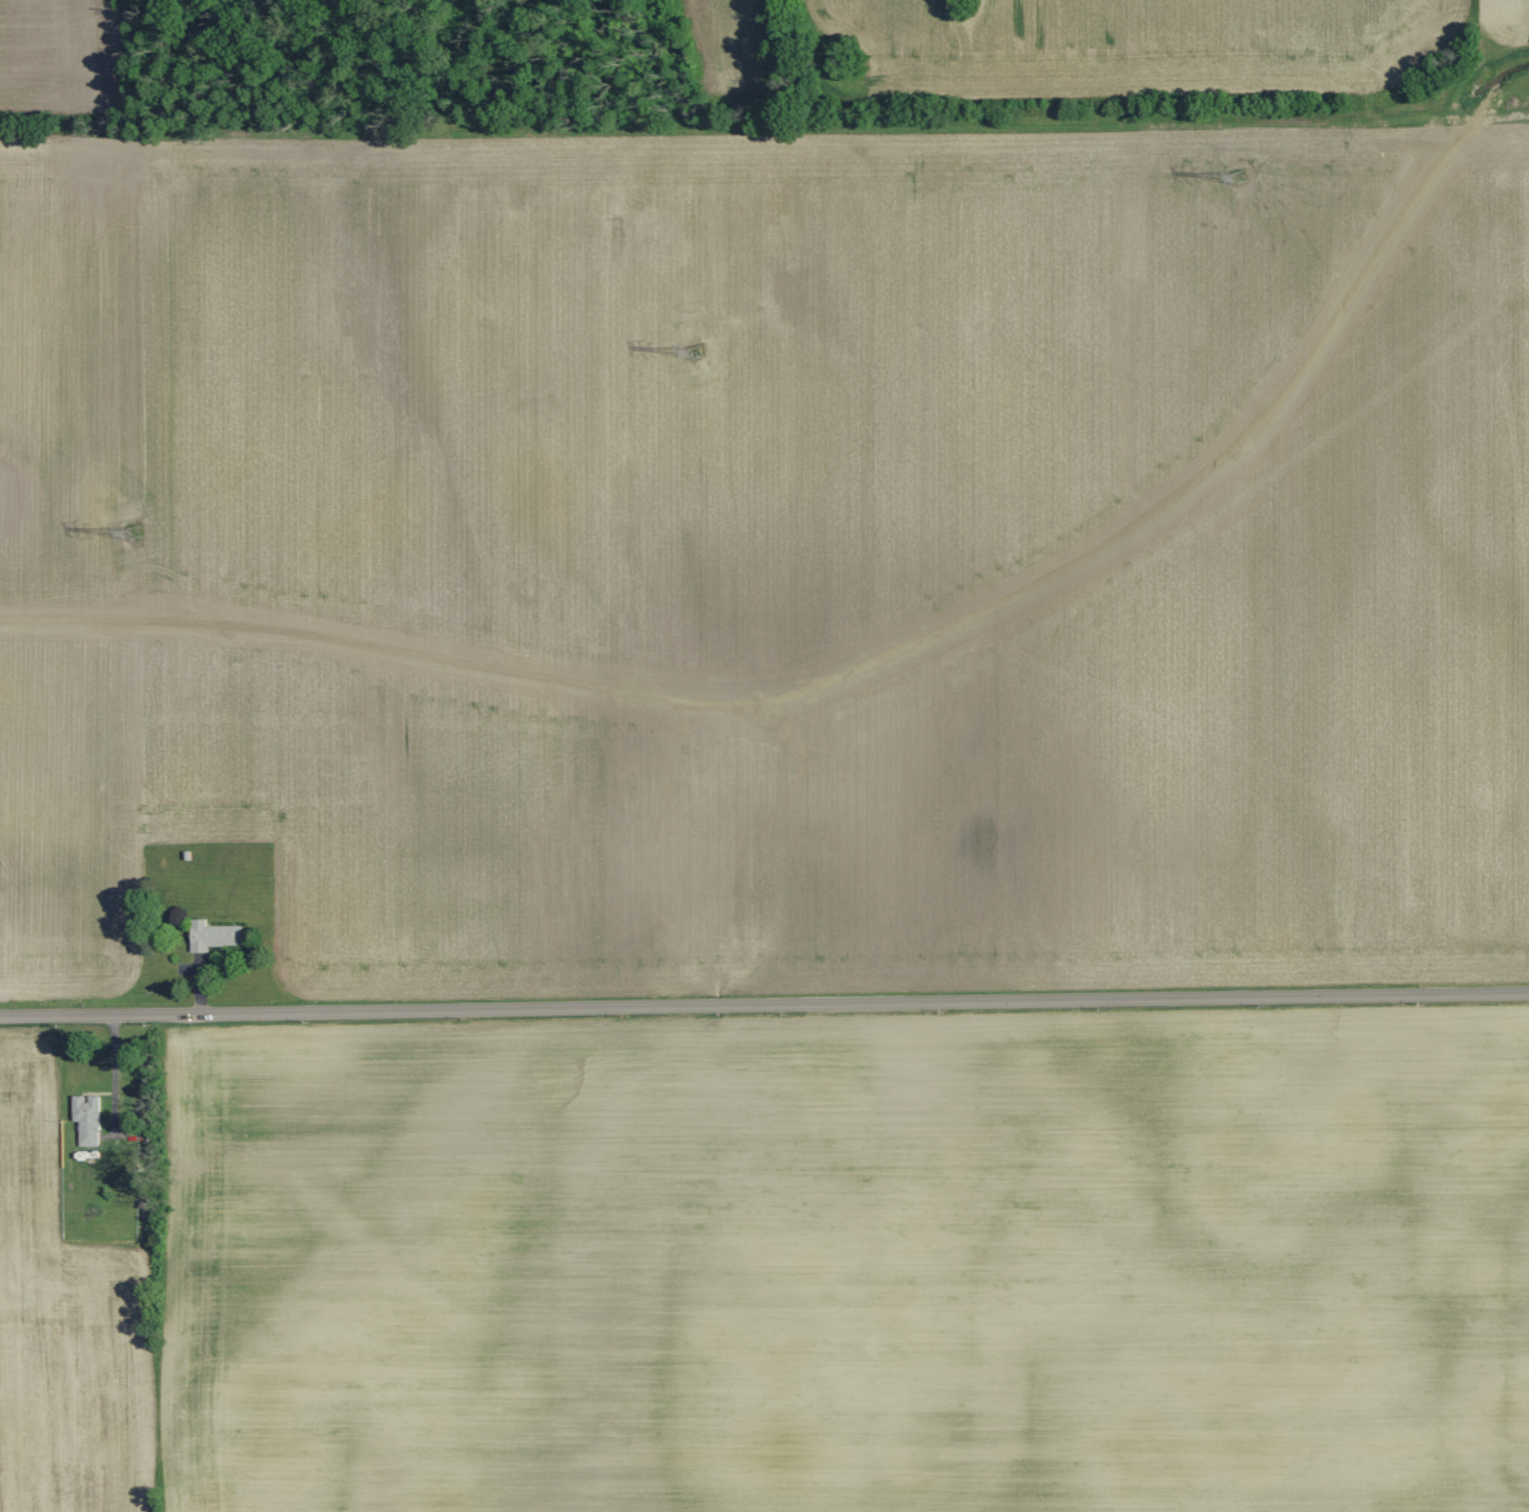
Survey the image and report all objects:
power tower: (1238, 179)
power tower: (696, 351)
power tower: (133, 533)
building: (213, 936)
road: (764, 1004)
building: (87, 1120)

